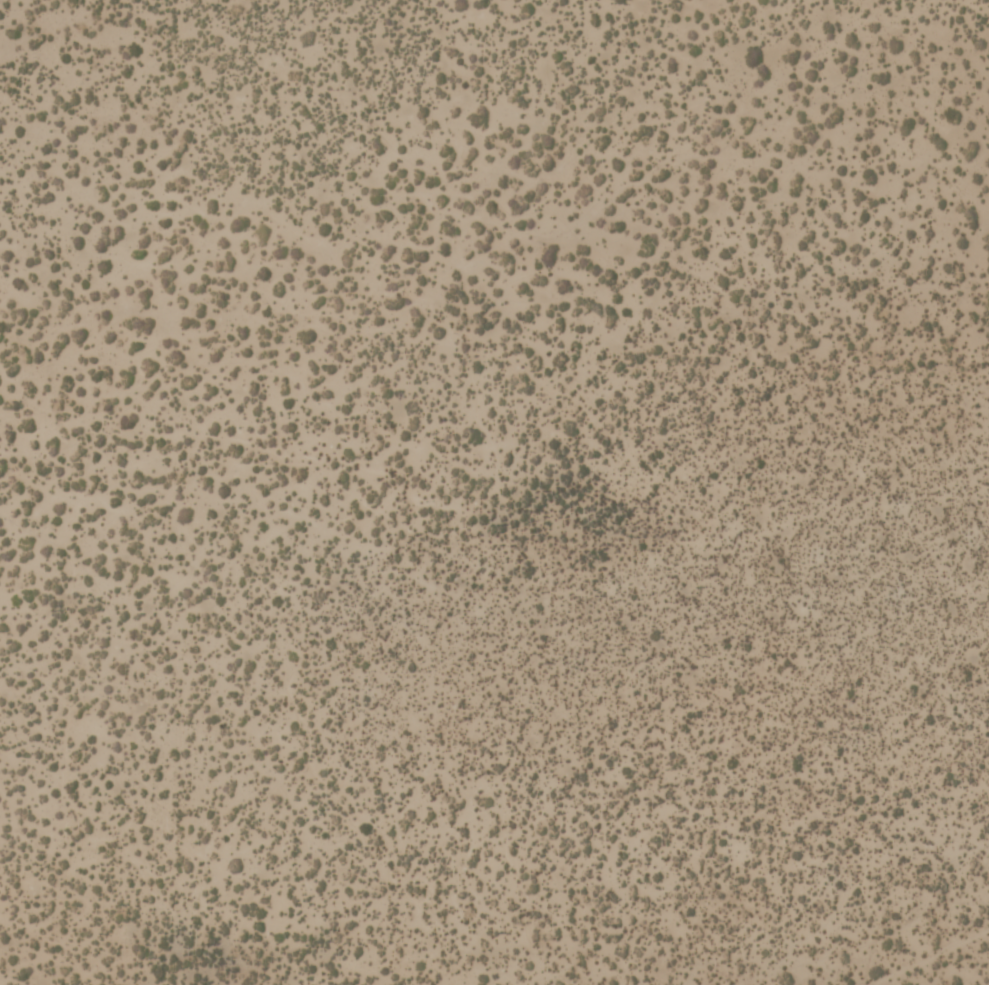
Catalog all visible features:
road: (924, 954)

